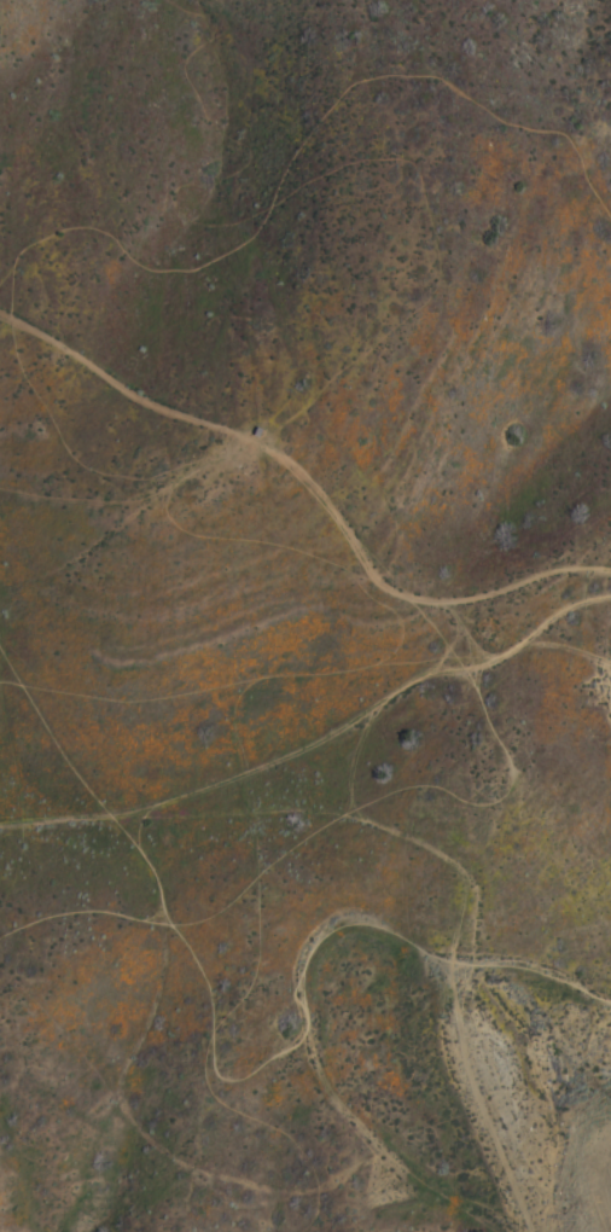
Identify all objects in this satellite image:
road: (295, 145)
road: (308, 487)
road: (609, 714)
road: (280, 755)
road: (57, 820)
road: (297, 1011)

